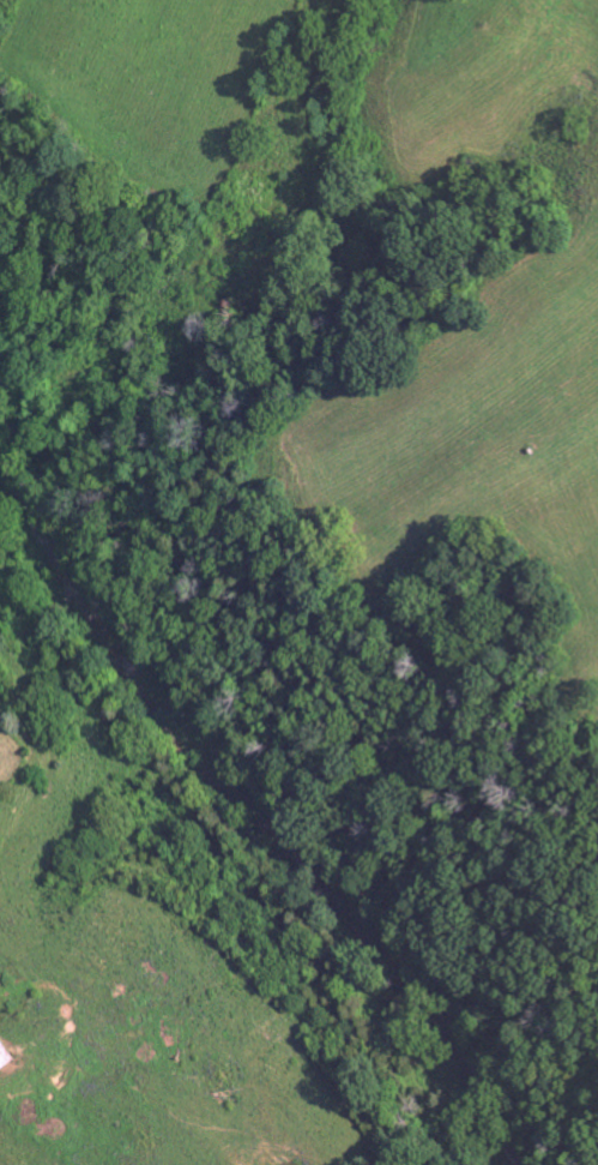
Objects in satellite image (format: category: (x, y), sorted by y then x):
building: (8, 1056)

